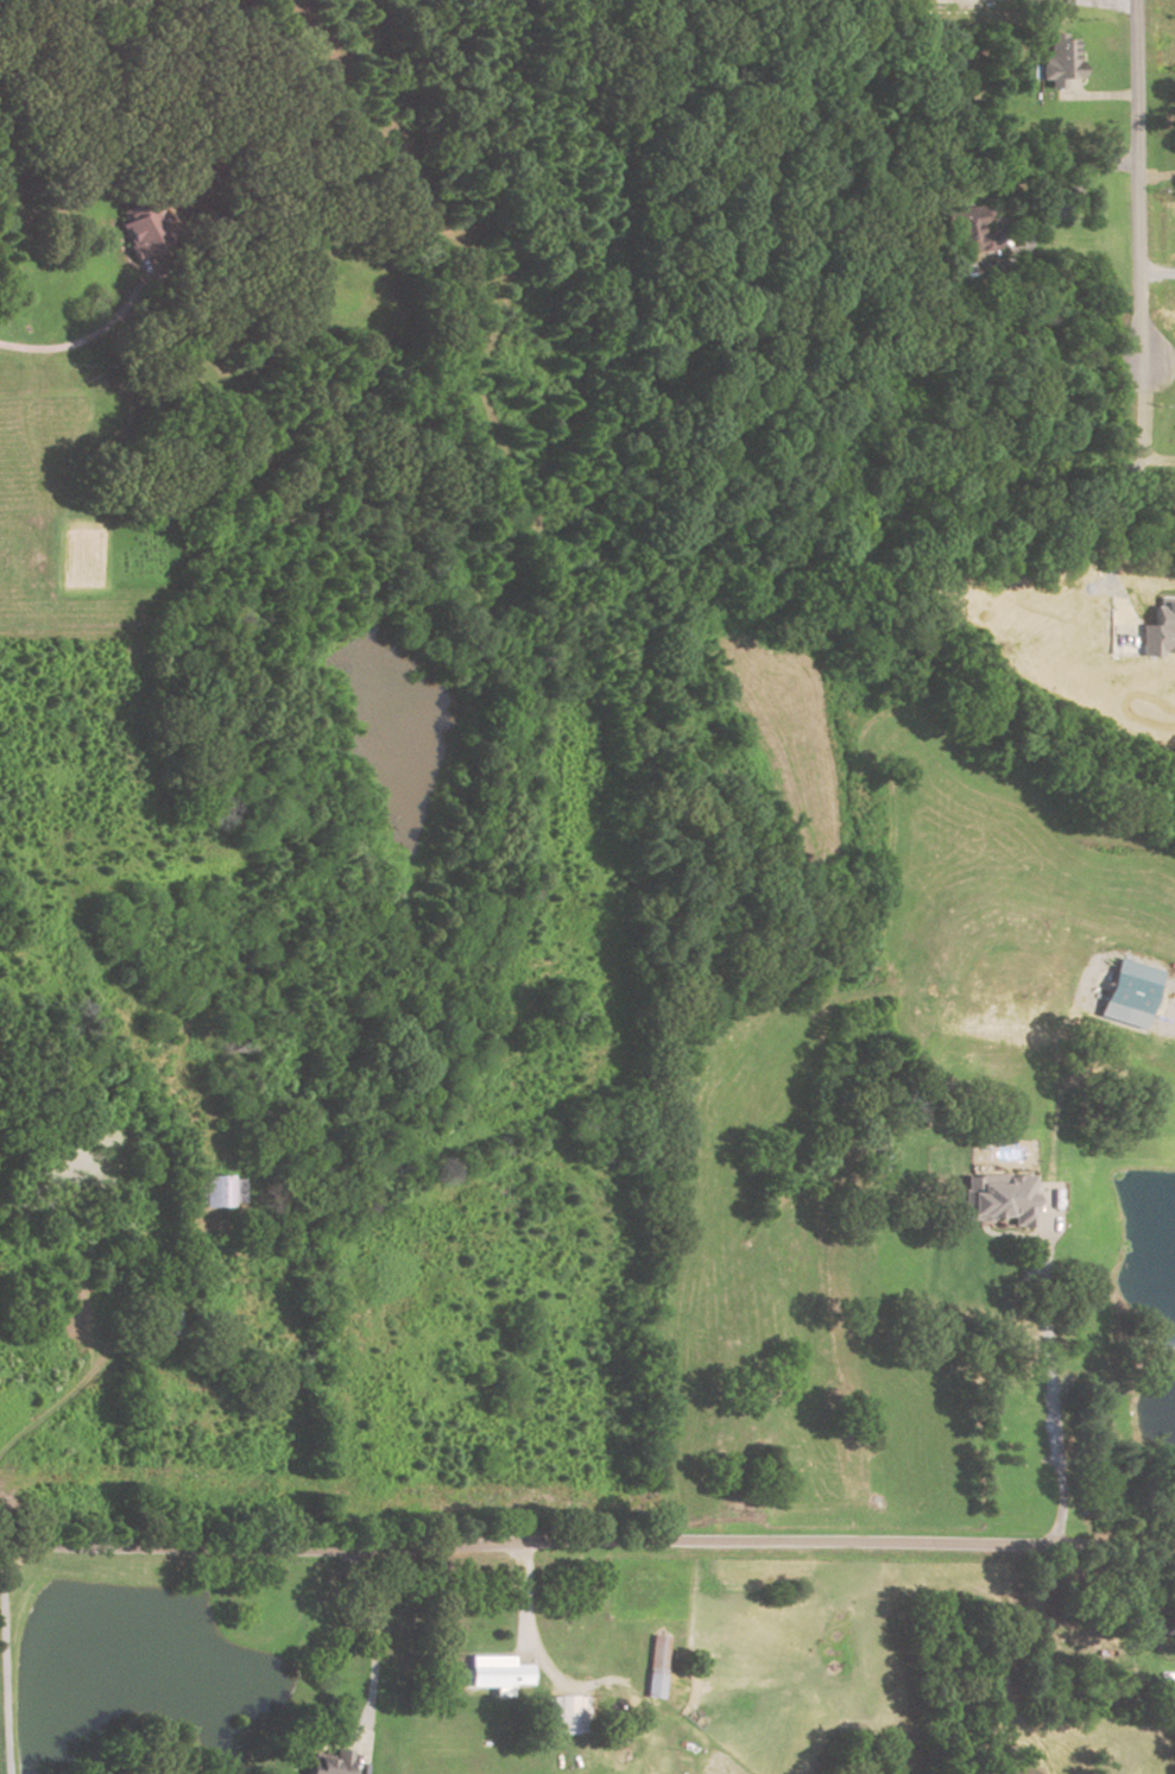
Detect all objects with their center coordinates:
road: (1110, 4)
building: (1057, 64)
road: (1100, 97)
road: (1155, 177)
road: (1136, 179)
building: (966, 229)
building: (141, 233)
road: (1035, 235)
road: (1155, 271)
road: (81, 341)
road: (1138, 424)
road: (1111, 528)
building: (1158, 627)
building: (1130, 992)
building: (887, 1161)
building: (214, 1192)
building: (1000, 1199)
road: (1050, 1375)
road: (72, 1390)
road: (587, 1539)
road: (523, 1599)
building: (1148, 1631)
building: (585, 1650)
road: (1, 1658)
road: (373, 1658)
building: (655, 1668)
building: (495, 1673)
road: (569, 1685)
building: (567, 1716)
building: (330, 1764)

